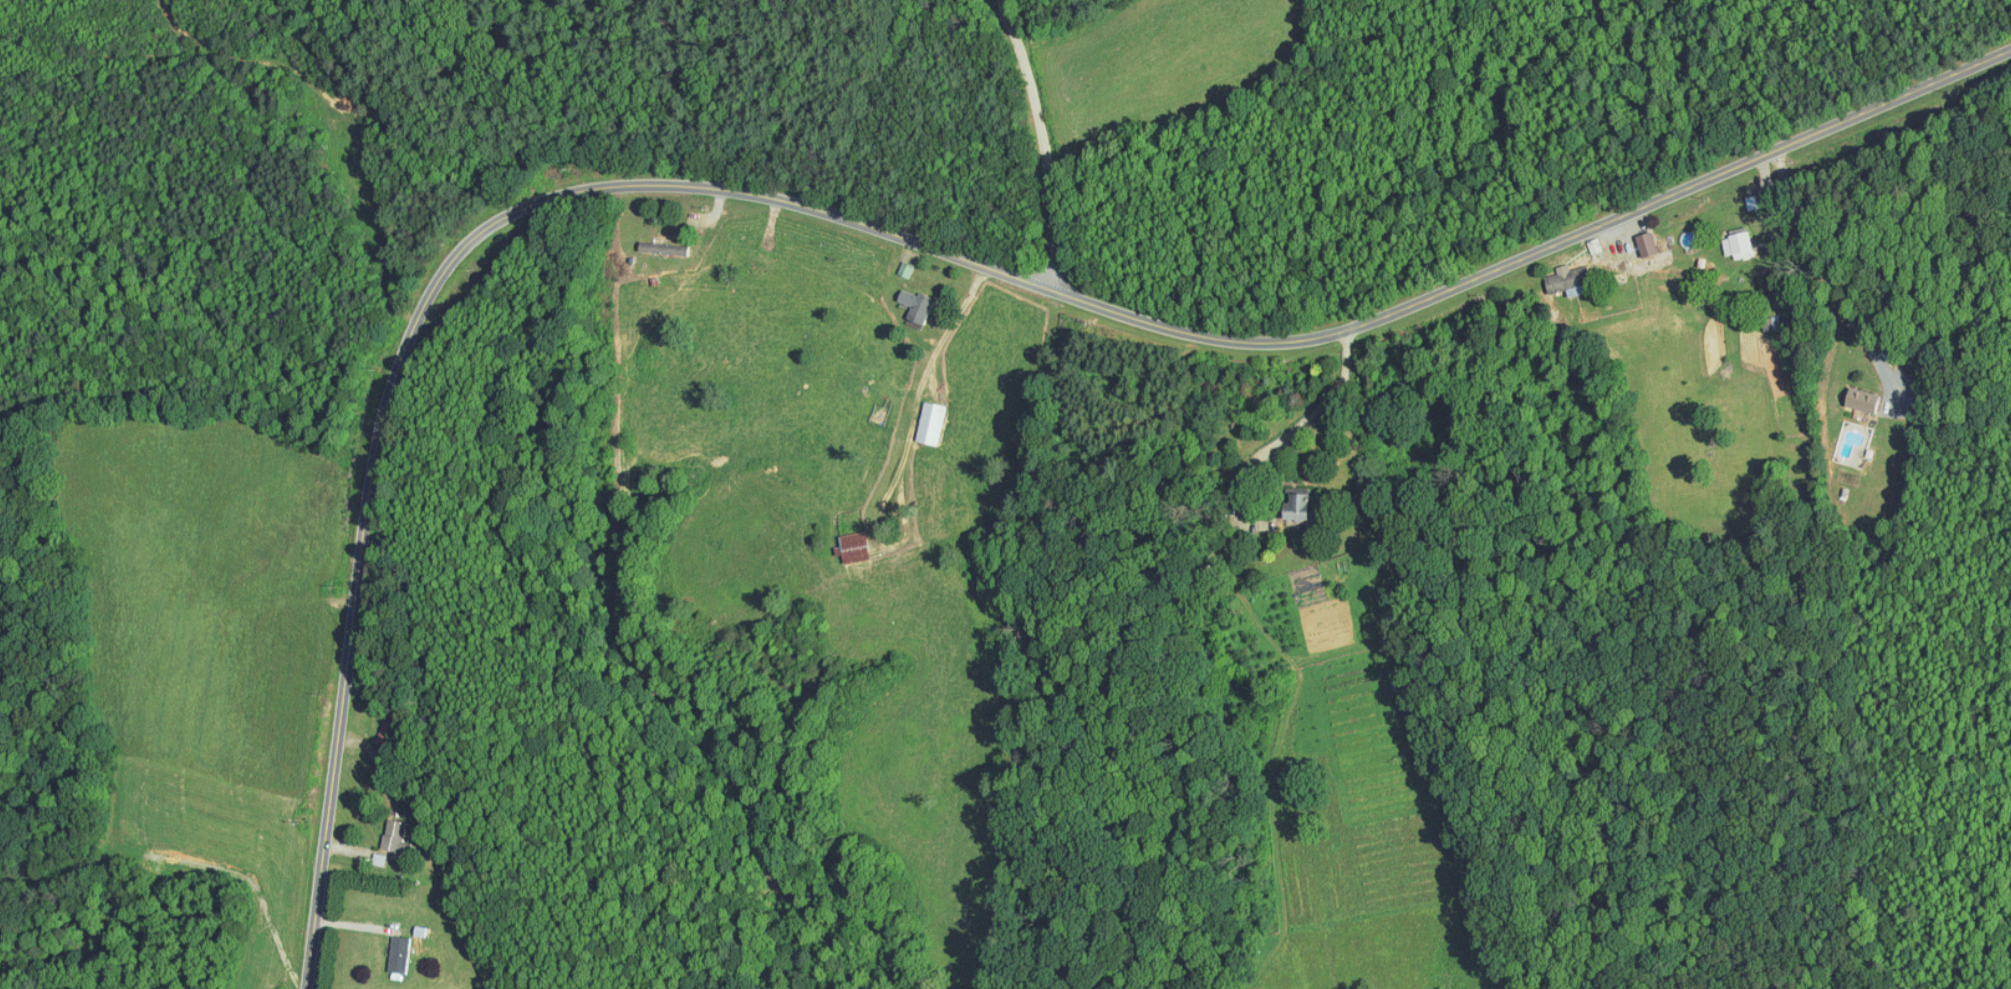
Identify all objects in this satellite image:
road: (1043, 142)
road: (877, 226)
building: (1732, 237)
building: (1641, 238)
building: (657, 242)
building: (898, 263)
road: (1827, 278)
building: (909, 301)
building: (924, 417)
road: (1268, 452)
building: (1301, 499)
building: (849, 541)
building: (388, 830)
building: (392, 947)

